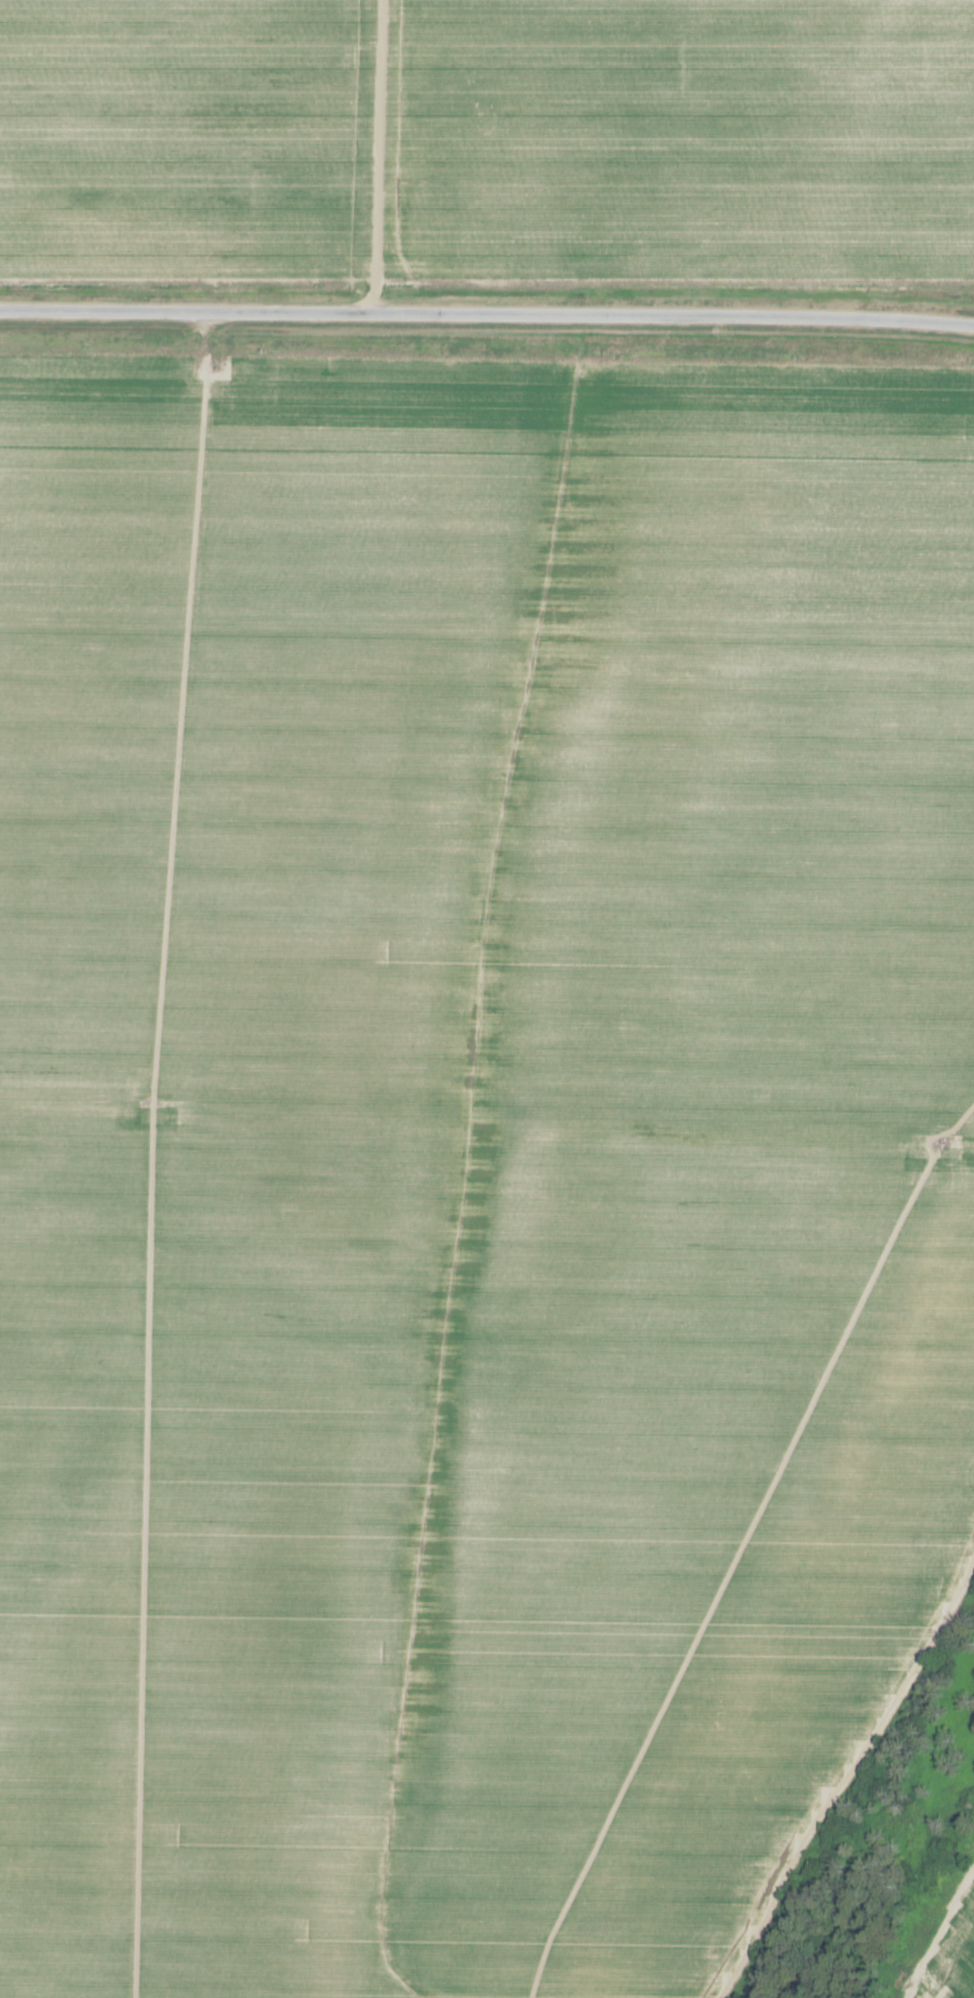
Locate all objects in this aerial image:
road: (377, 156)
road: (487, 313)

